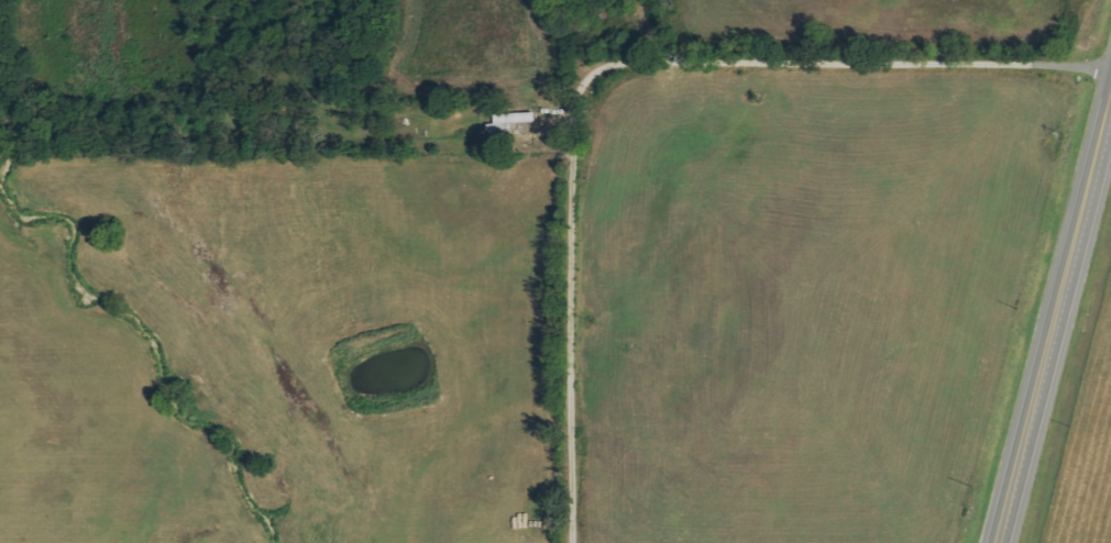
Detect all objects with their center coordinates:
road: (615, 65)
building: (510, 121)
road: (1053, 323)

